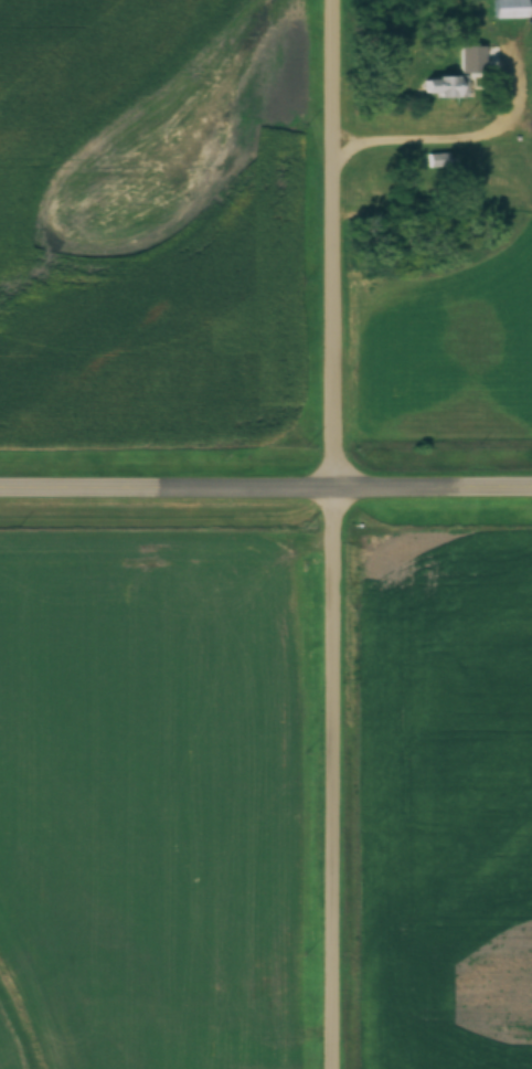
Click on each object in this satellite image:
building: (509, 9)
building: (446, 86)
road: (266, 488)
road: (338, 533)

